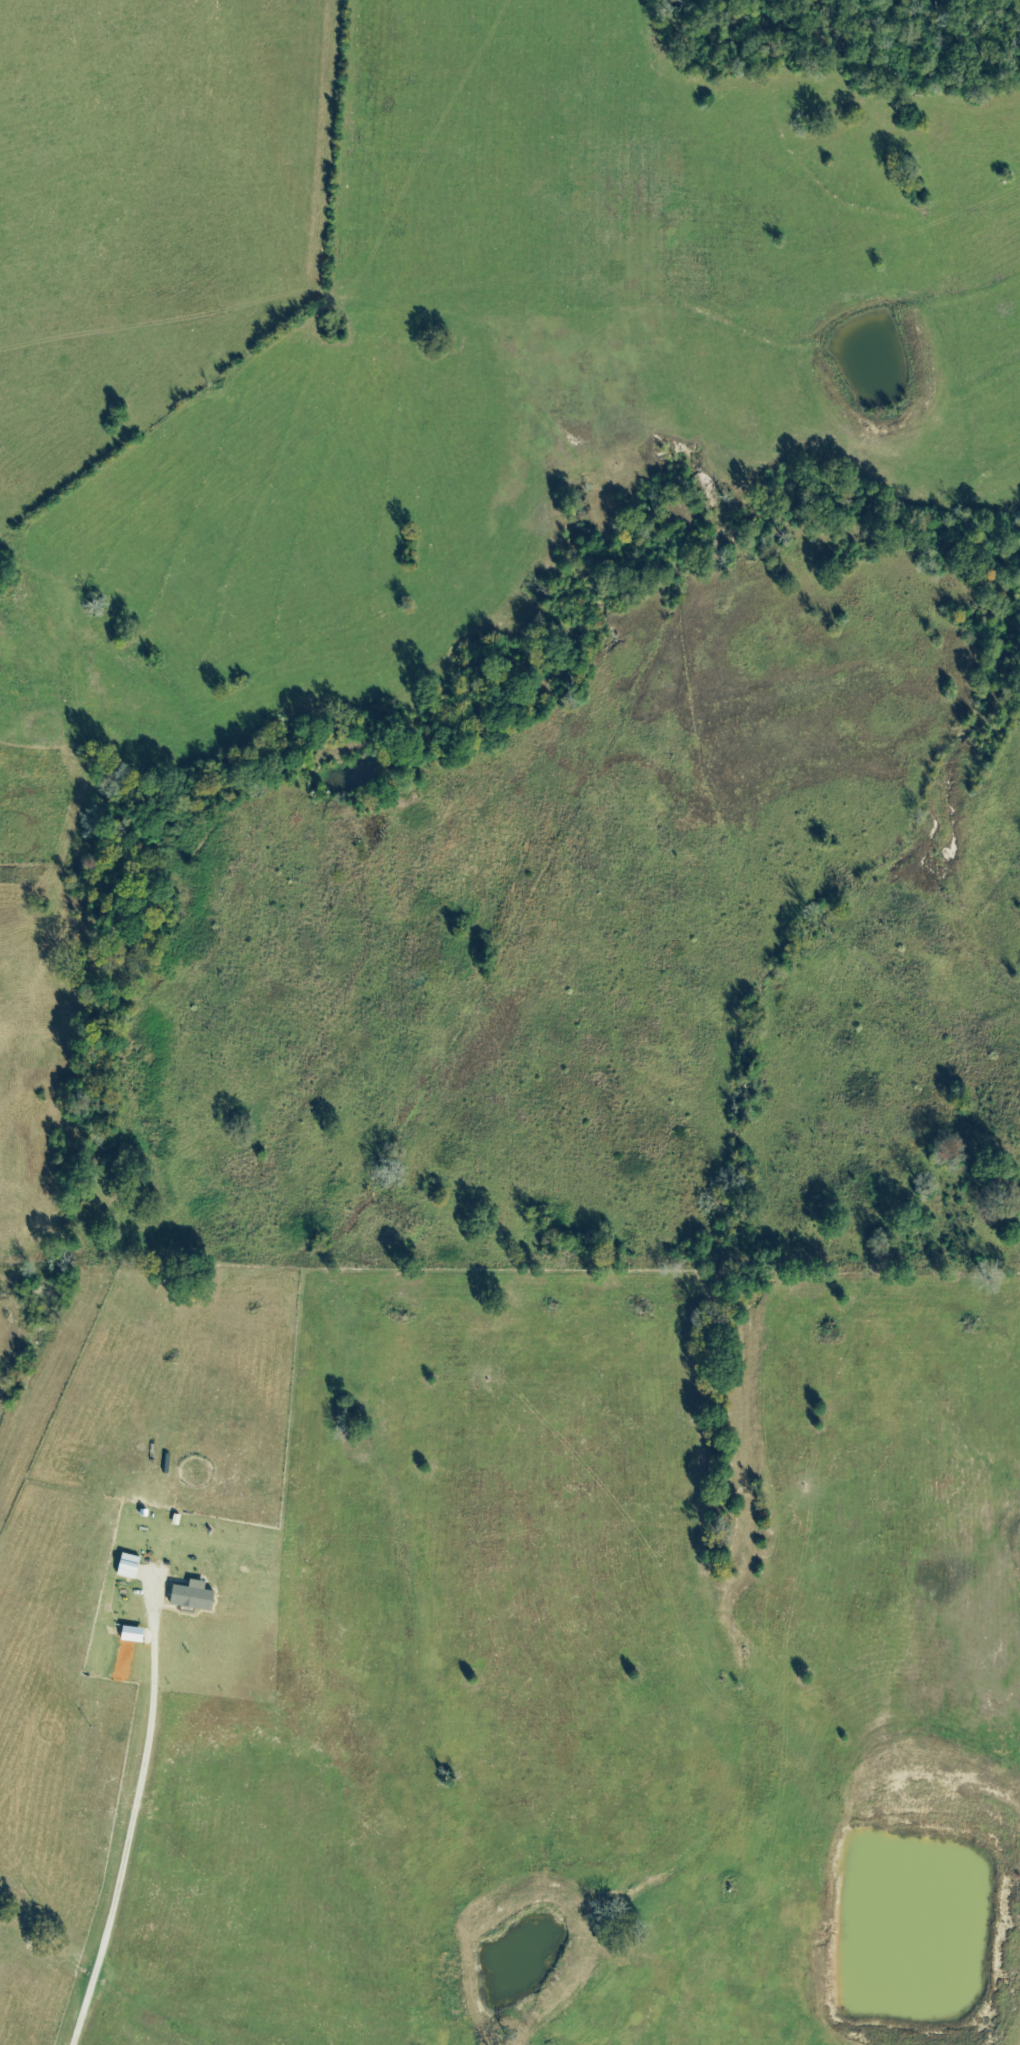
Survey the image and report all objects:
building: (196, 1597)

